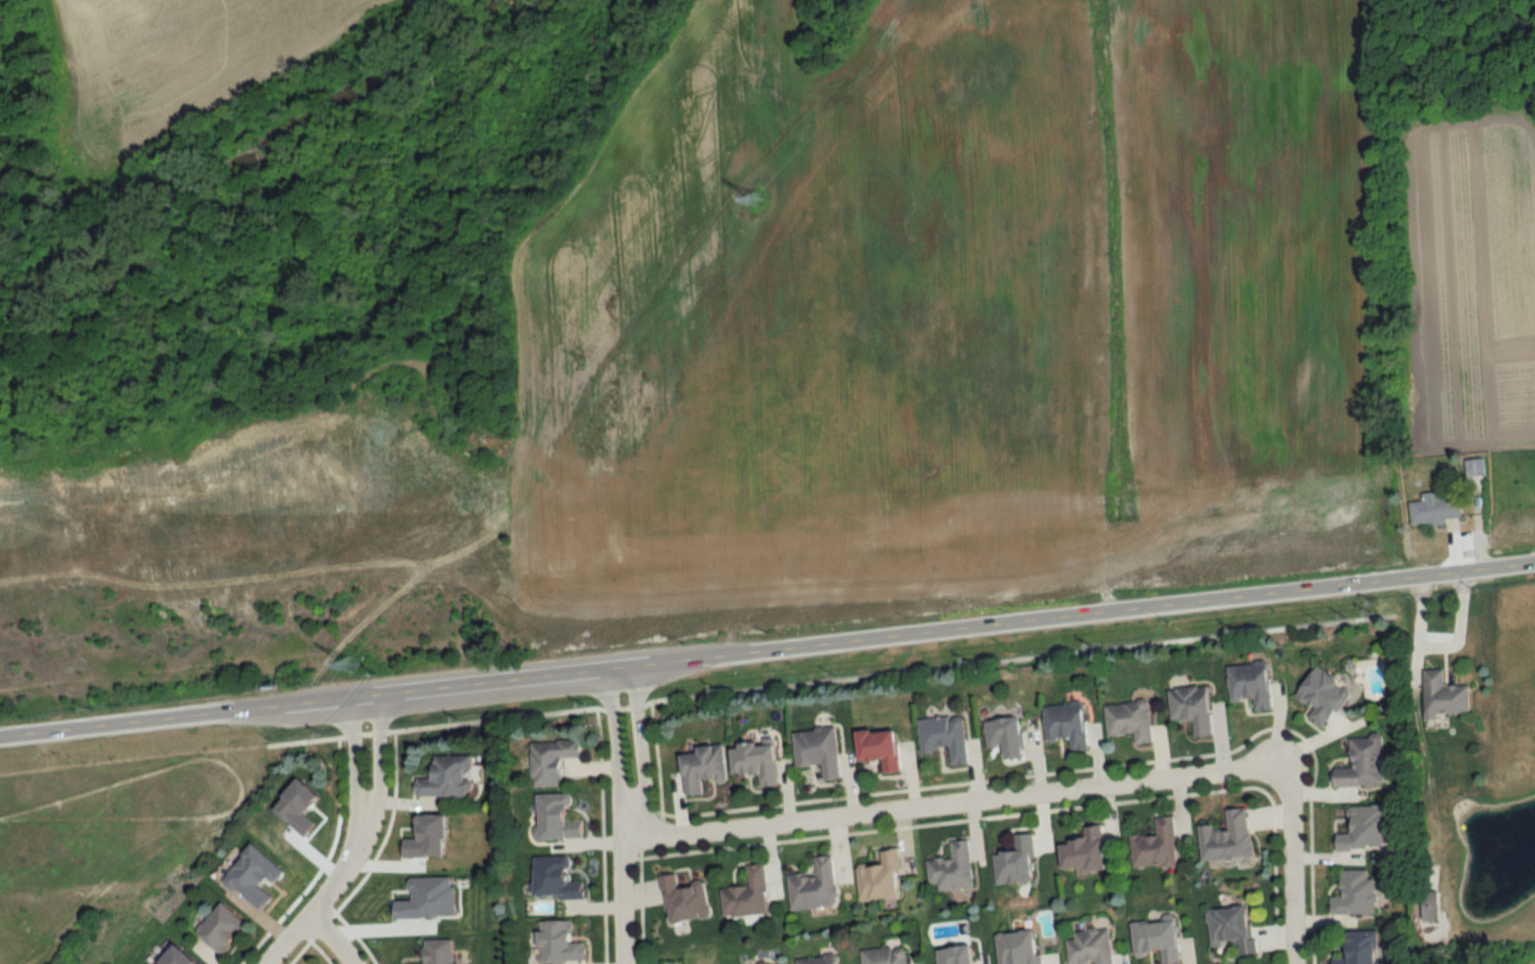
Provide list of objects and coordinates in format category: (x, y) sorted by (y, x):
crop: (185, 64)
power tower: (753, 203)
crop: (1469, 283)
crop: (943, 314)
building: (1433, 510)
road: (767, 653)
power tower: (351, 665)
building: (1248, 684)
building: (1442, 695)
building: (1320, 697)
building: (1190, 708)
building: (1127, 720)
building: (1064, 724)
building: (1002, 737)
building: (942, 738)
building: (876, 748)
building: (815, 750)
road: (379, 753)
road: (353, 754)
building: (548, 760)
building: (752, 762)
building: (1360, 764)
building: (700, 768)
building: (444, 777)
road: (630, 805)
road: (948, 806)
building: (554, 818)
building: (1362, 828)
building: (1225, 837)
building: (1153, 845)
building: (1081, 851)
building: (1013, 861)
building: (949, 868)
road: (1291, 869)
building: (877, 877)
building: (552, 878)
road: (622, 884)
building: (811, 886)
road: (331, 891)
building: (1353, 893)
building: (745, 894)
building: (681, 899)
building: (1229, 927)
building: (224, 928)
road: (332, 939)
building: (1154, 940)
building: (555, 943)
building: (1015, 947)
building: (1088, 947)
building: (1359, 947)
building: (883, 955)
building: (952, 955)
building: (816, 960)

